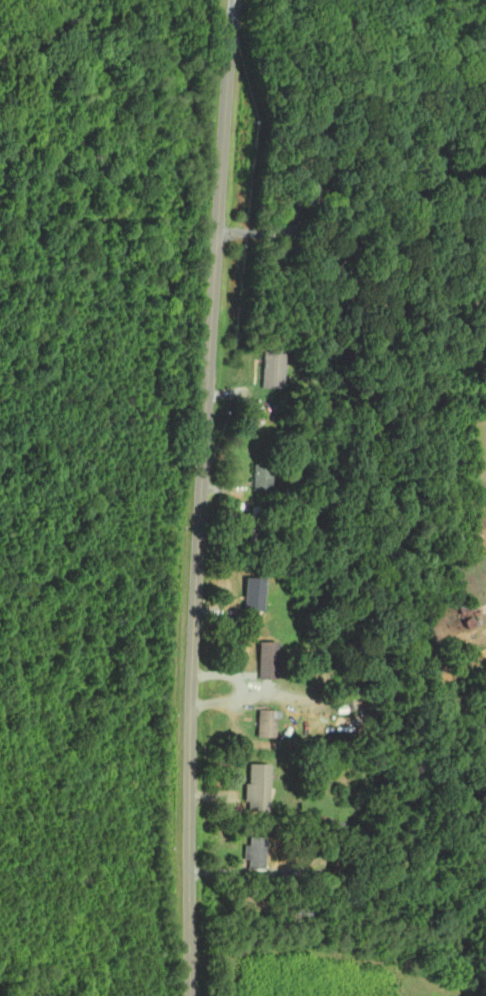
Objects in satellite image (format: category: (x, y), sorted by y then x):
building: (343, 139)
building: (302, 199)
building: (485, 262)
building: (274, 368)
building: (255, 424)
building: (263, 477)
road: (200, 497)
building: (257, 526)
building: (469, 606)
building: (475, 621)
building: (270, 660)
building: (269, 723)
building: (346, 725)
building: (259, 787)
building: (338, 825)
building: (258, 852)

